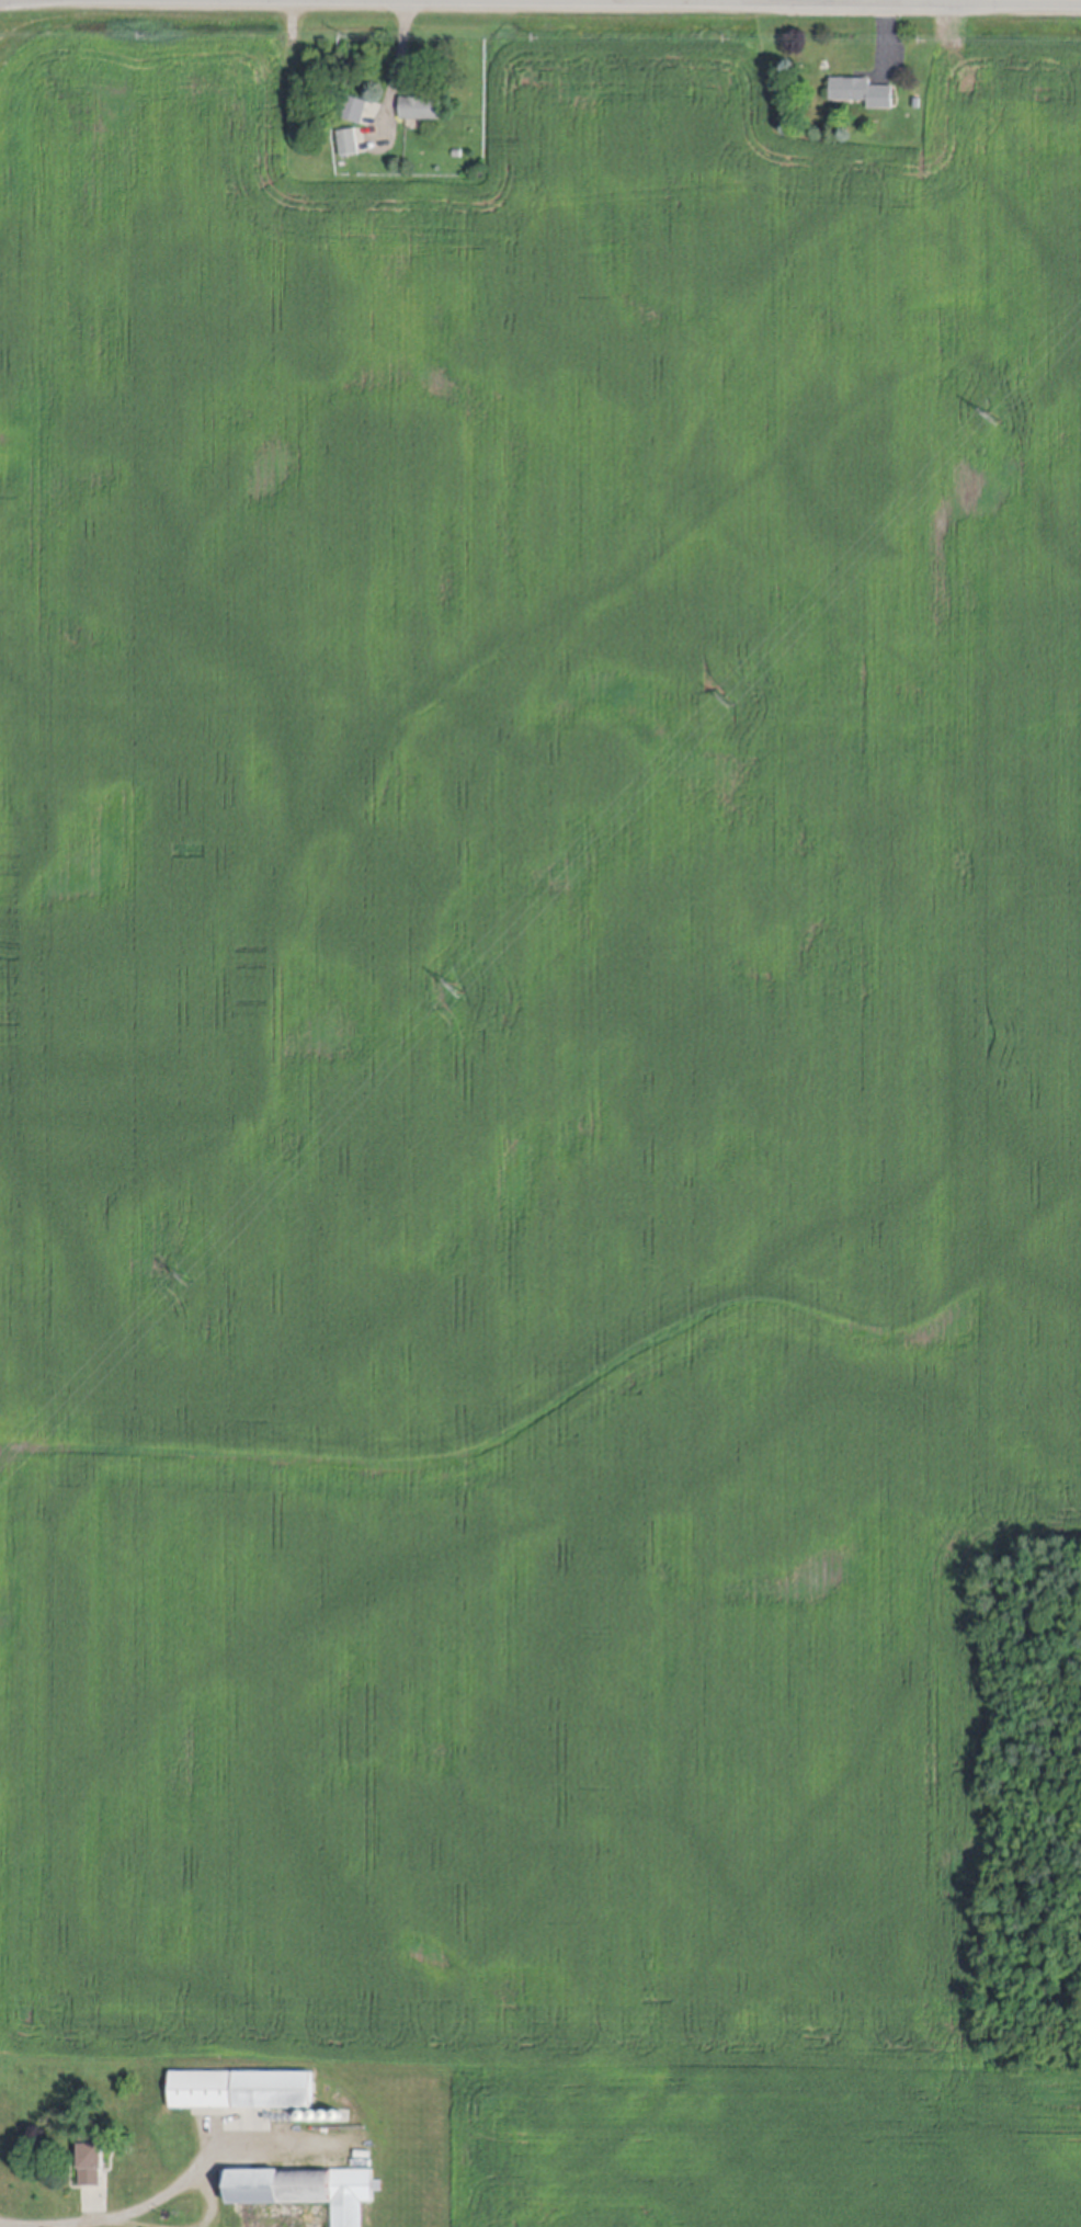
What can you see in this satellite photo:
road: (732, 2)
building: (863, 88)
building: (421, 104)
building: (355, 105)
building: (349, 138)
power tower: (993, 420)
power tower: (728, 701)
power tower: (459, 989)
power tower: (187, 1279)
quarry: (1029, 1573)
building: (241, 2090)
building: (316, 2115)
building: (305, 2116)
building: (327, 2116)
building: (339, 2116)
building: (91, 2160)
building: (305, 2190)
road: (124, 2212)

